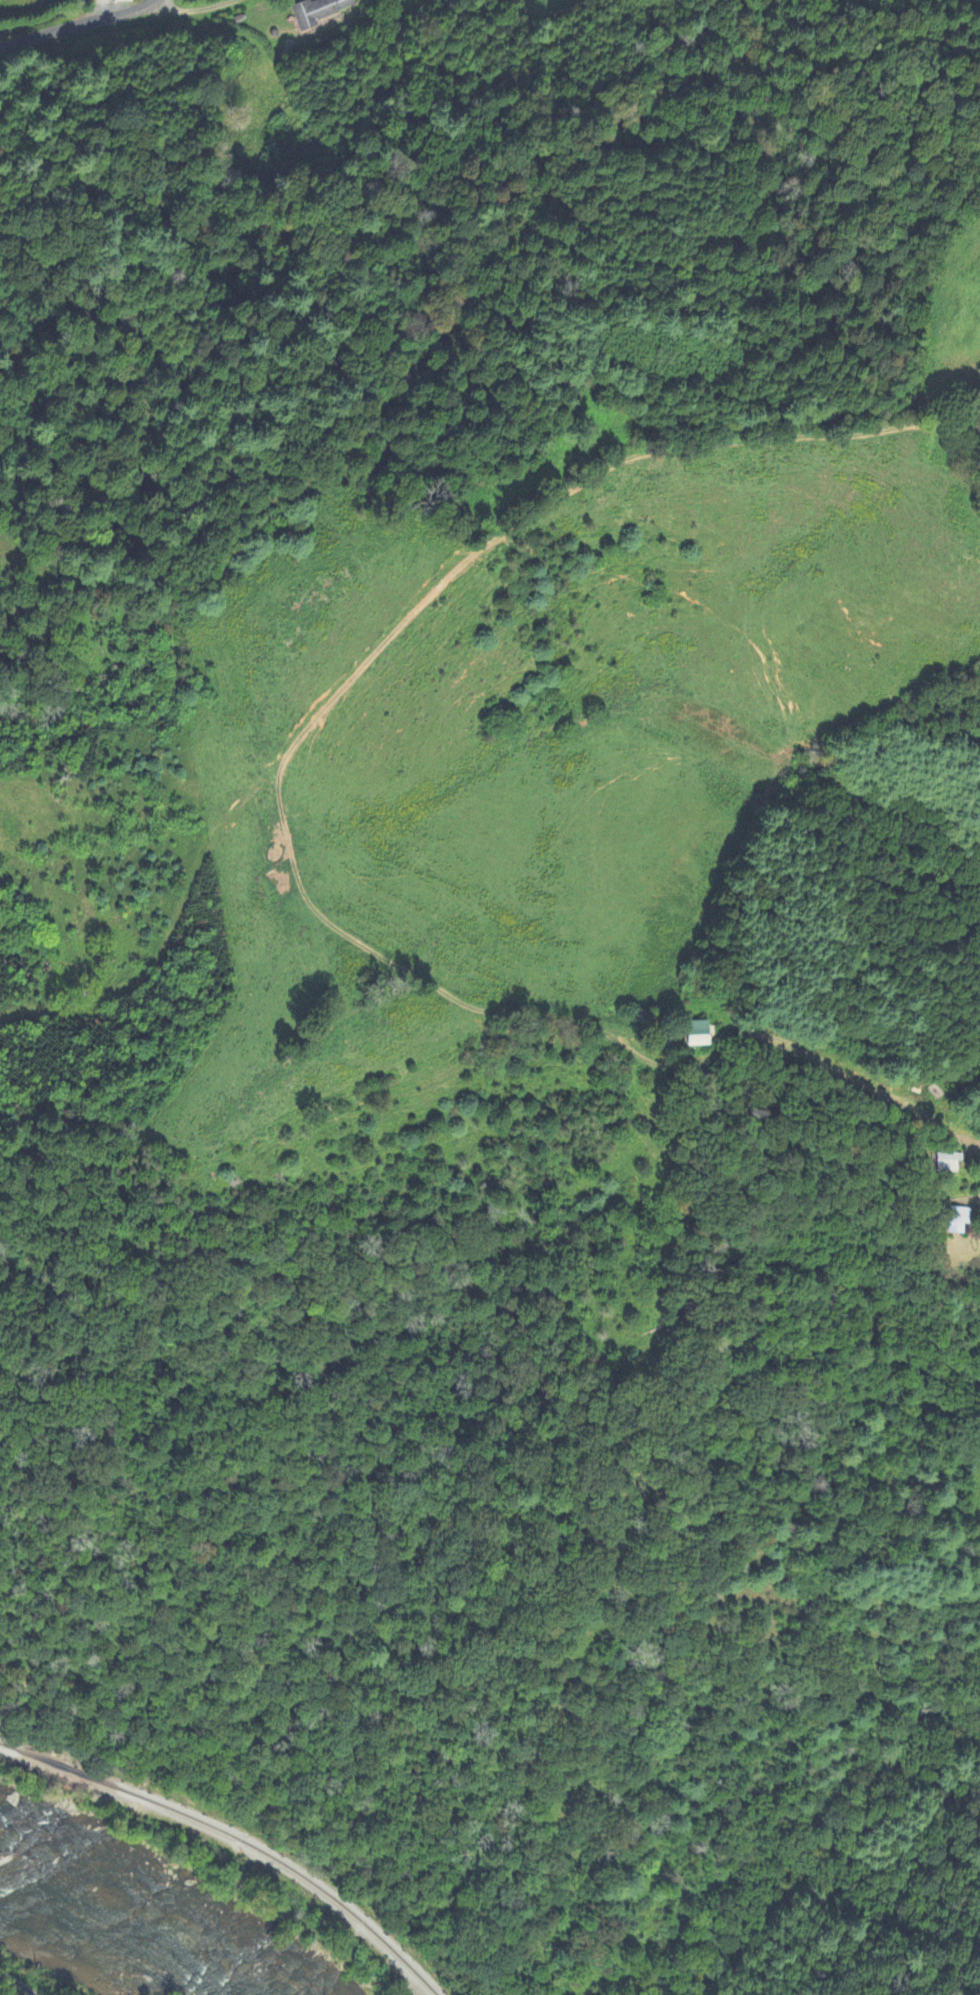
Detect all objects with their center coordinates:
building: (318, 12)
road: (78, 23)
building: (952, 1165)
building: (965, 1222)
railway: (236, 1838)
river: (129, 1936)
road: (14, 1984)

